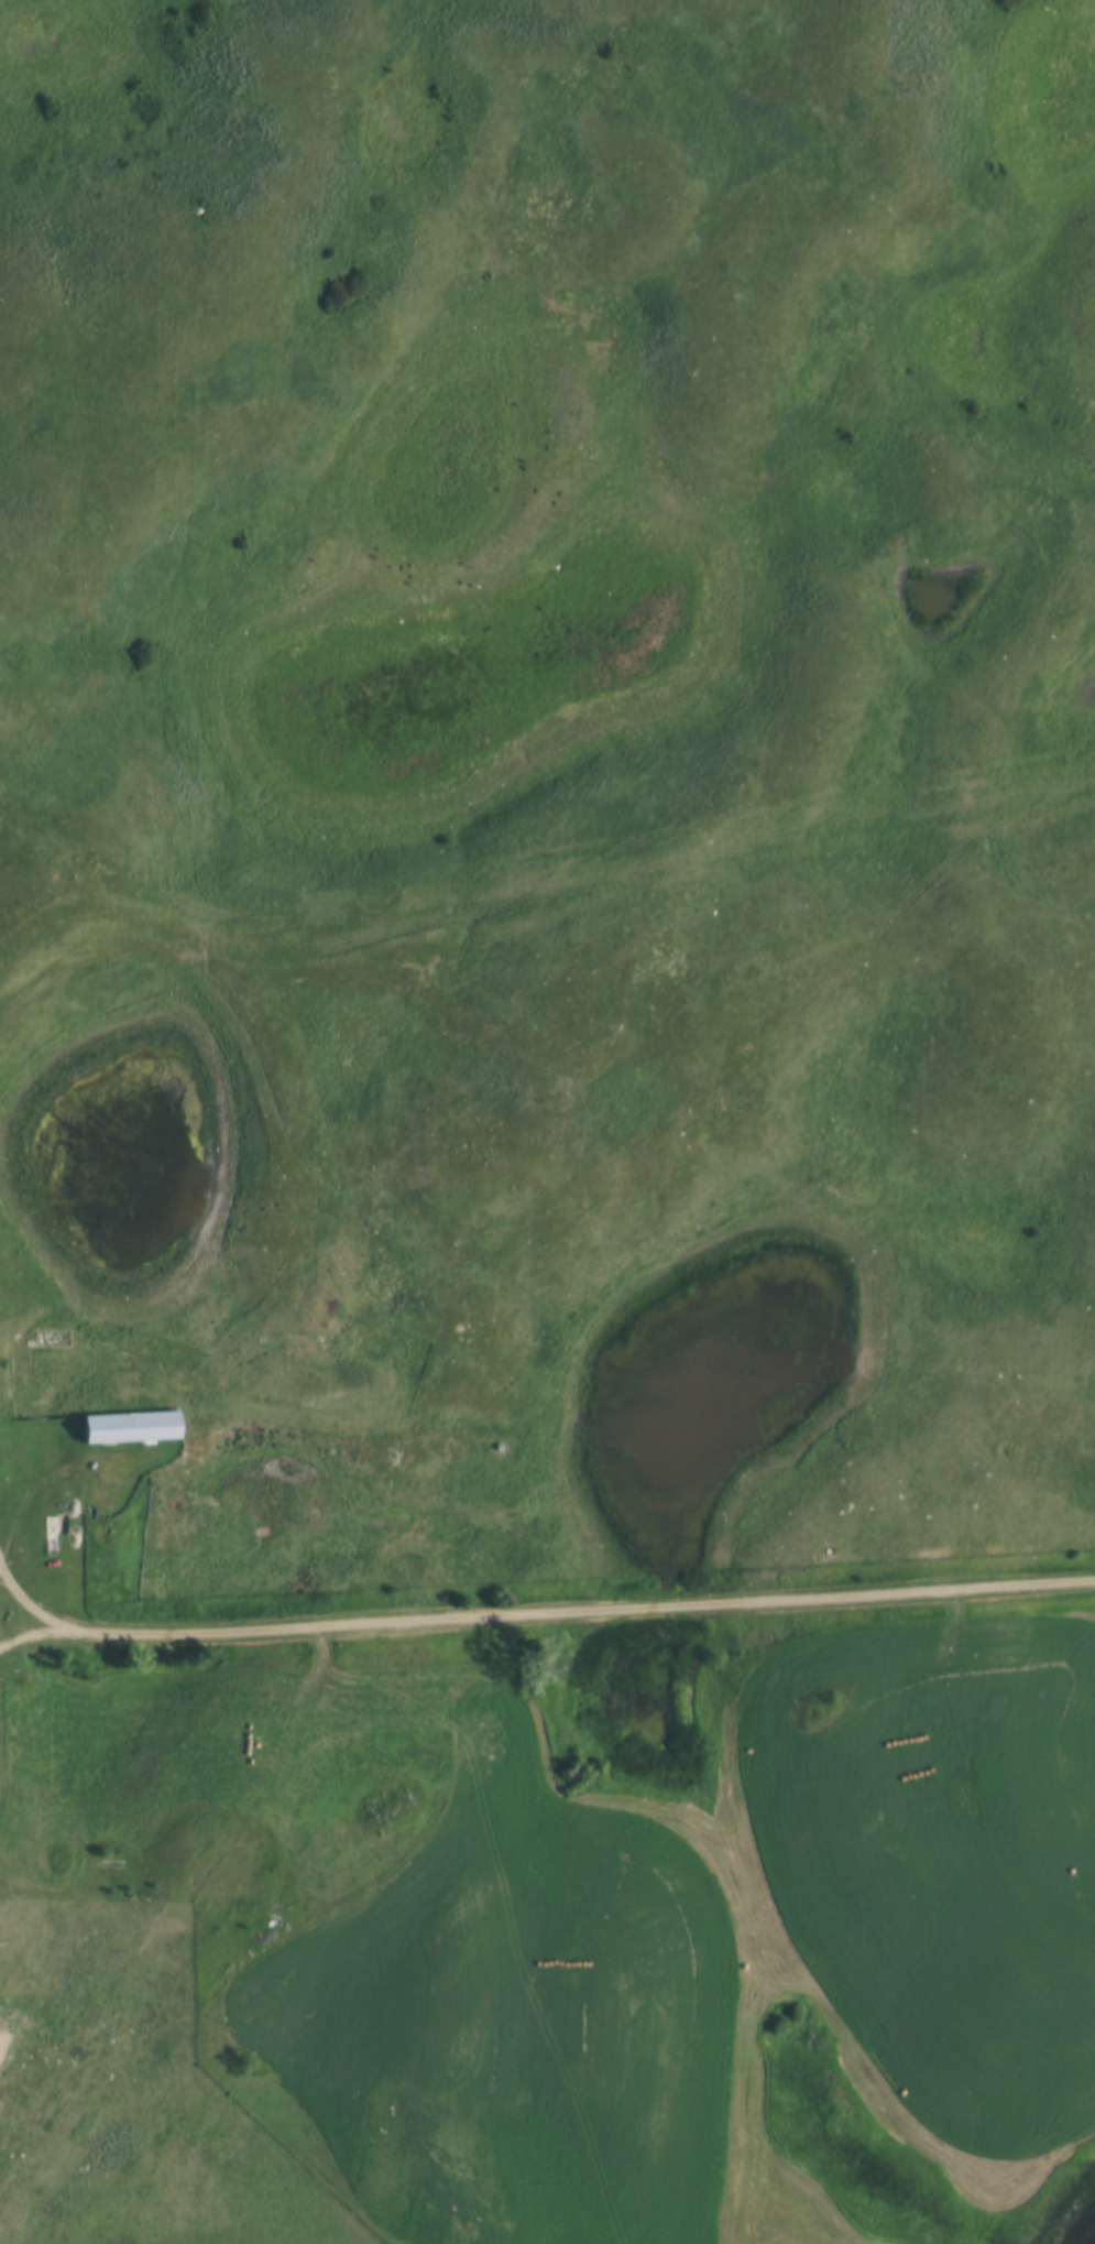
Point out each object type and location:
building: (127, 1430)
road: (31, 1600)
road: (546, 1608)

